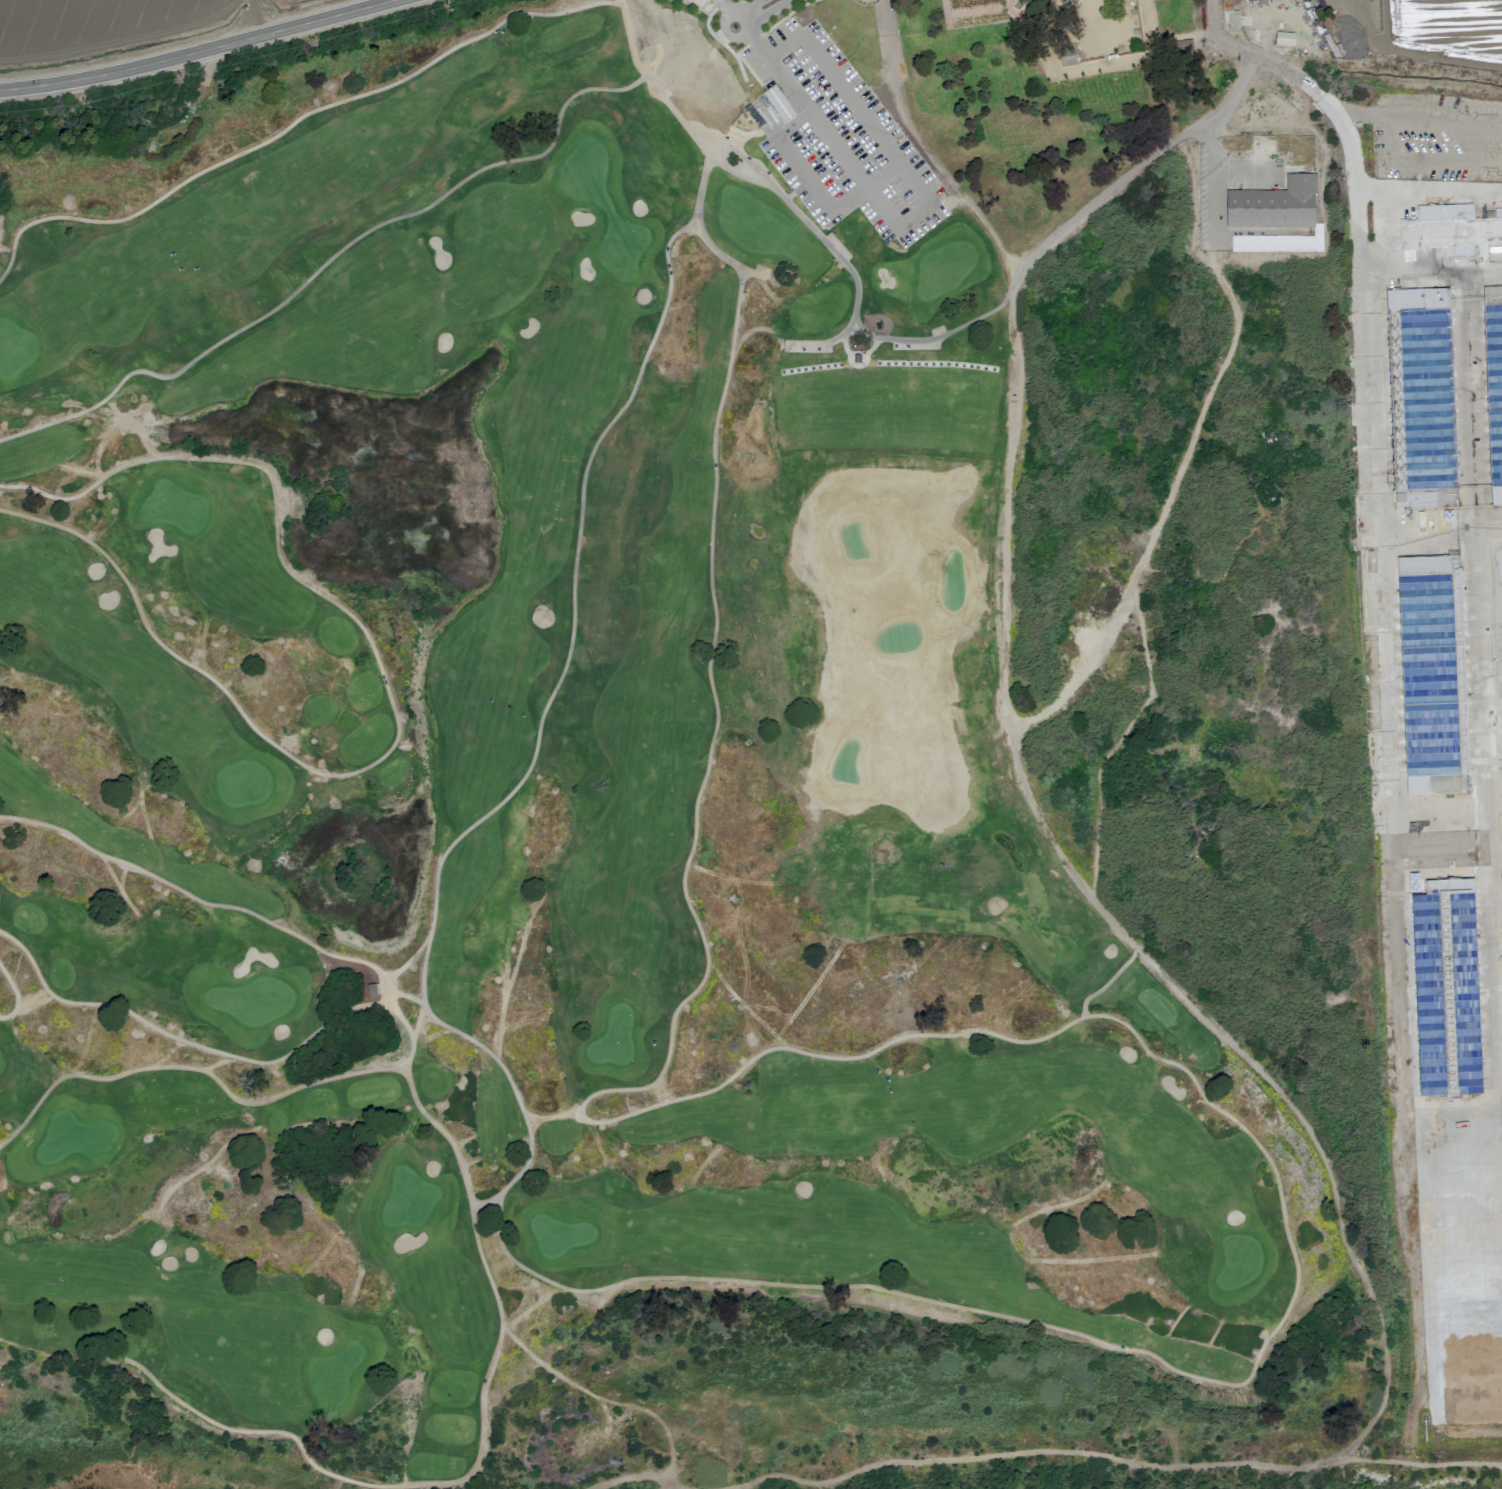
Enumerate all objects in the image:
road: (721, 4)
road: (749, 8)
building: (1230, 17)
crop: (106, 20)
road: (884, 25)
building: (1284, 39)
road: (858, 44)
road: (207, 53)
road: (642, 71)
road: (1301, 77)
park: (1083, 97)
building: (775, 109)
road: (868, 121)
road: (816, 122)
parking lot: (842, 141)
road: (939, 170)
road: (806, 179)
road: (1214, 181)
road: (867, 189)
road: (1429, 189)
building: (1274, 205)
building: (1457, 231)
building: (1407, 234)
building: (1279, 243)
road: (1038, 247)
road: (1431, 275)
building: (1494, 388)
building: (1424, 399)
building: (1431, 673)
road: (389, 700)
crop: (1449, 715)
park: (552, 748)
road: (1390, 836)
road: (15, 993)
road: (381, 999)
road: (194, 1073)
road: (65, 1353)
road: (622, 1405)
road: (484, 1445)
road: (1155, 1463)
road: (630, 1476)

